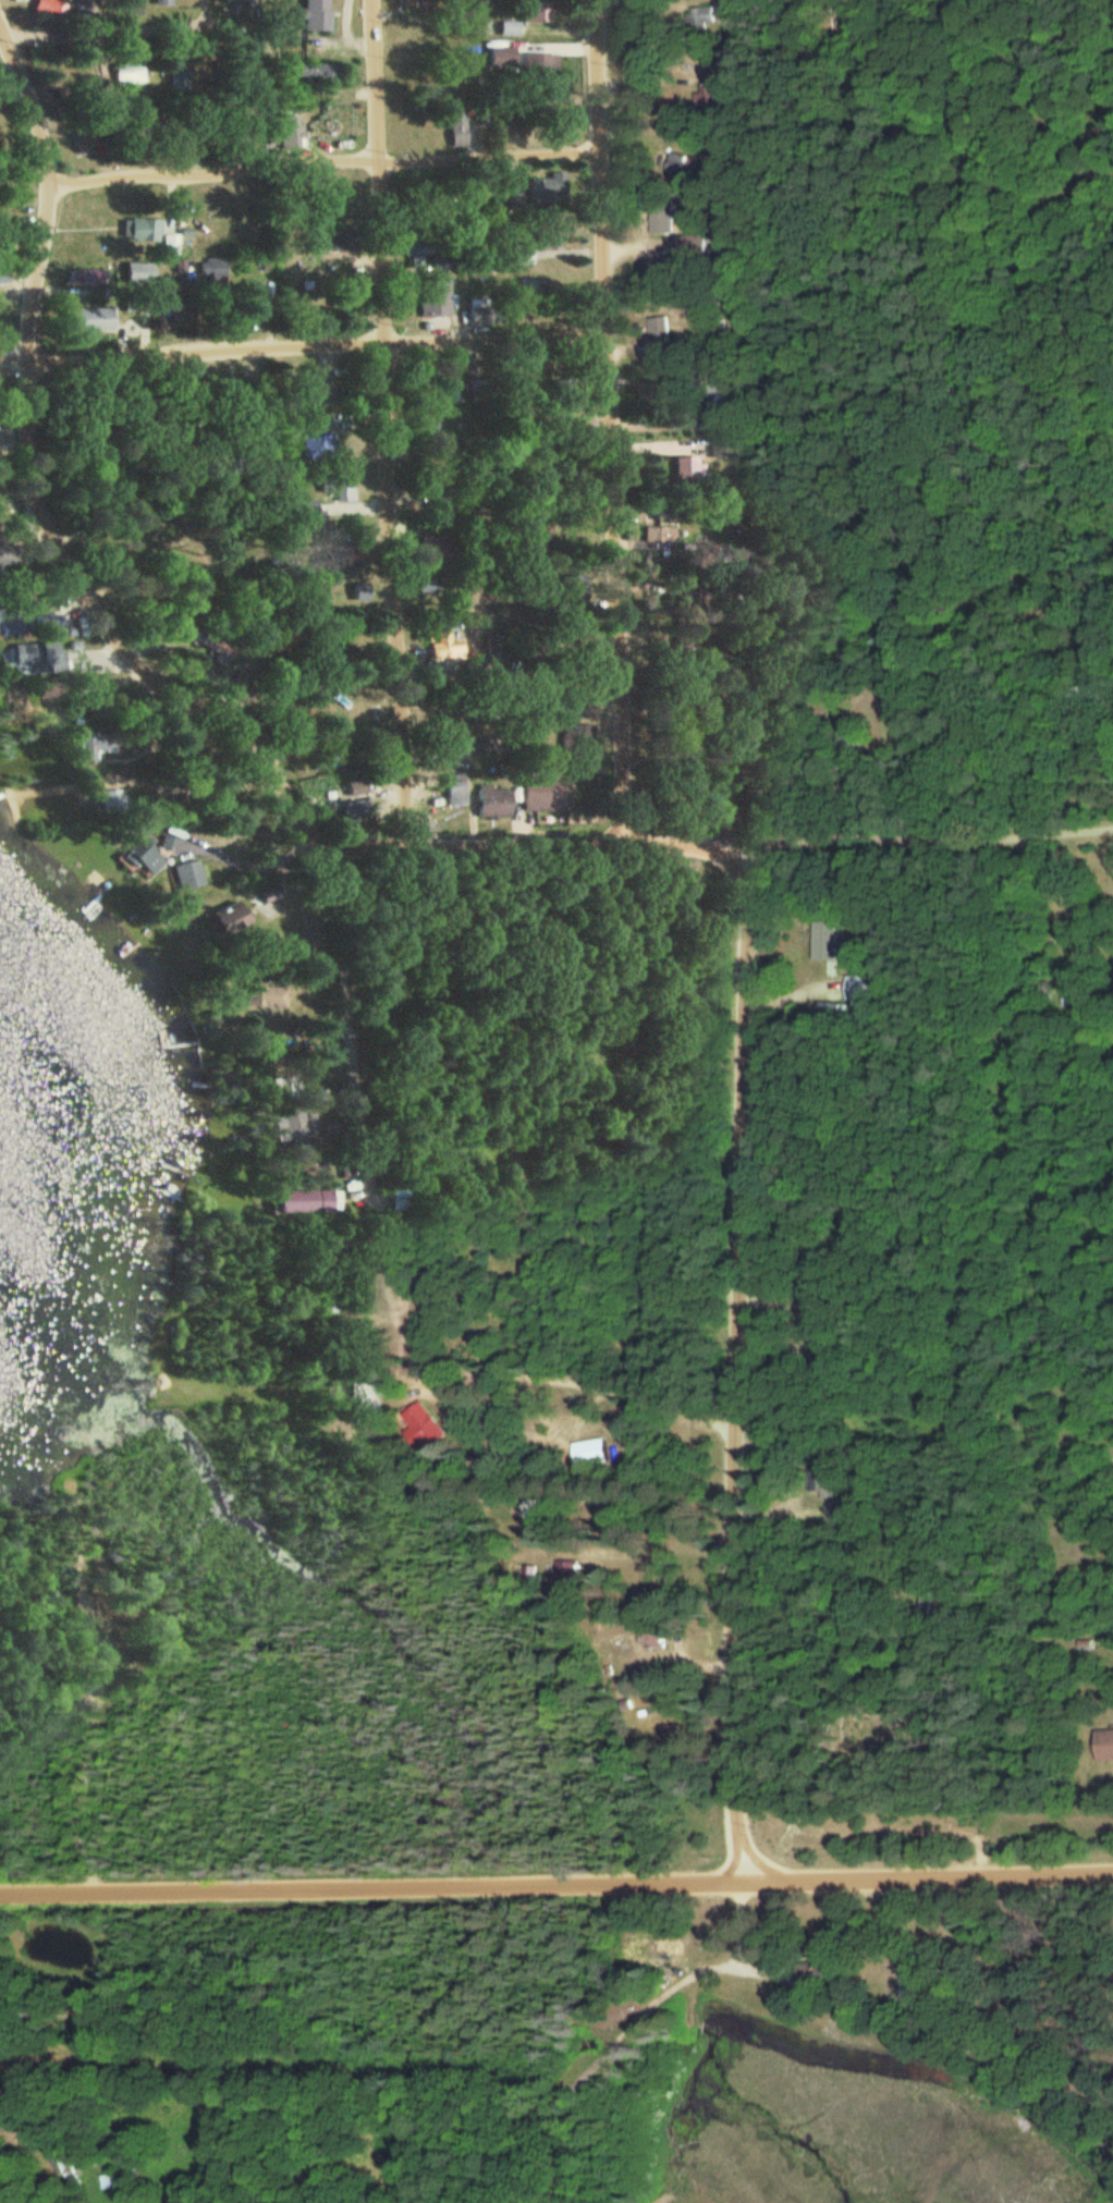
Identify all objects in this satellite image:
building: (164, 2)
building: (244, 7)
building: (406, 8)
building: (538, 10)
building: (318, 15)
building: (506, 26)
road: (99, 34)
building: (499, 54)
building: (536, 66)
building: (131, 74)
building: (325, 74)
building: (721, 91)
building: (555, 120)
building: (510, 123)
building: (454, 126)
road: (319, 160)
building: (682, 162)
building: (545, 186)
building: (662, 213)
building: (138, 227)
building: (547, 231)
building: (340, 236)
building: (417, 245)
building: (690, 248)
building: (521, 252)
building: (438, 260)
building: (81, 274)
building: (535, 286)
building: (342, 291)
building: (246, 296)
building: (433, 296)
building: (480, 311)
building: (86, 319)
building: (660, 326)
road: (303, 344)
building: (481, 390)
building: (560, 390)
building: (722, 401)
road: (607, 420)
road: (387, 423)
building: (319, 443)
building: (721, 448)
building: (688, 467)
building: (338, 486)
road: (38, 495)
building: (7, 533)
building: (663, 540)
building: (7, 556)
building: (11, 616)
building: (440, 646)
building: (26, 656)
road: (416, 674)
building: (102, 744)
building: (358, 787)
building: (534, 798)
road: (924, 837)
road: (680, 844)
road: (475, 845)
building: (227, 921)
building: (836, 948)
building: (274, 996)
road: (357, 1101)
building: (297, 1126)
building: (317, 1163)
road: (742, 1200)
building: (311, 1201)
road: (576, 1384)
building: (367, 1394)
building: (853, 1421)
building: (420, 1423)
road: (547, 1431)
building: (596, 1451)
building: (538, 1508)
building: (849, 1511)
building: (568, 1574)
building: (102, 1640)
road: (739, 1712)
building: (1105, 1743)
road: (82, 1797)
road: (556, 1885)
building: (917, 1986)
building: (126, 2178)

